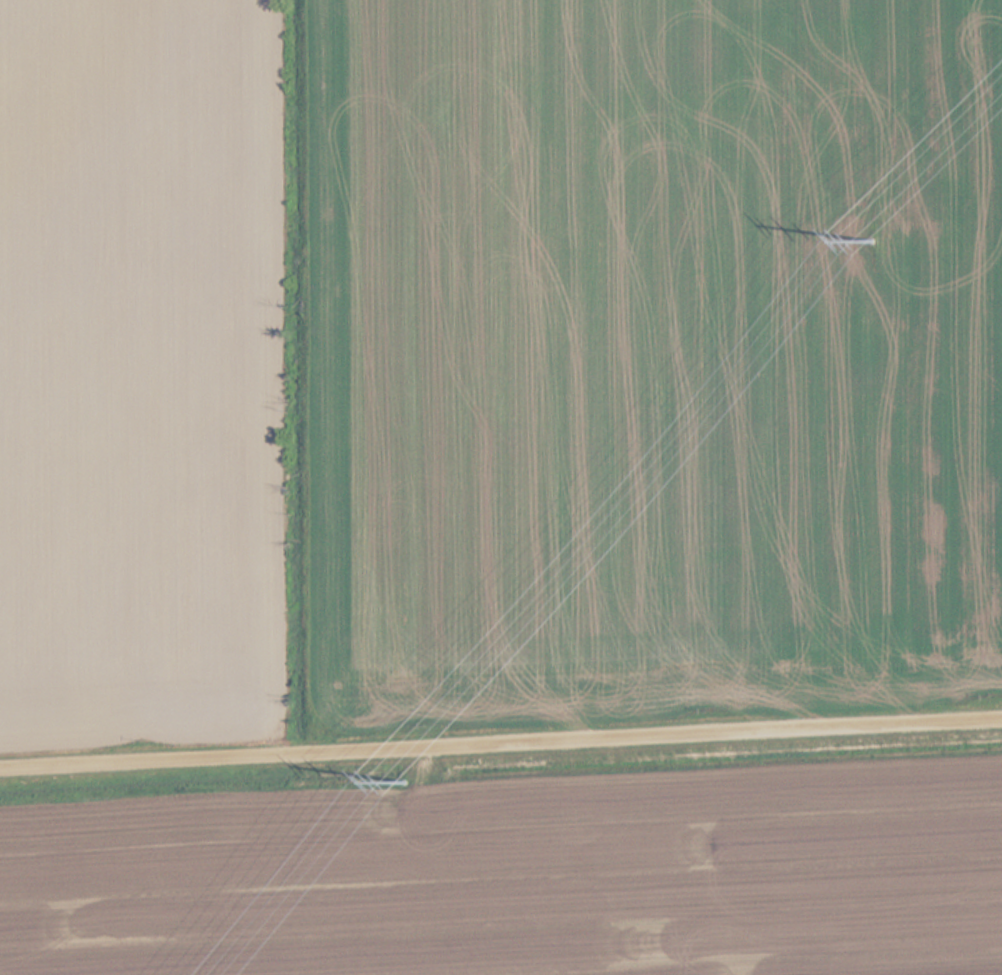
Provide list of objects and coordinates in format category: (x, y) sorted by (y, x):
power tower: (879, 241)
road: (500, 742)
power tower: (413, 779)

